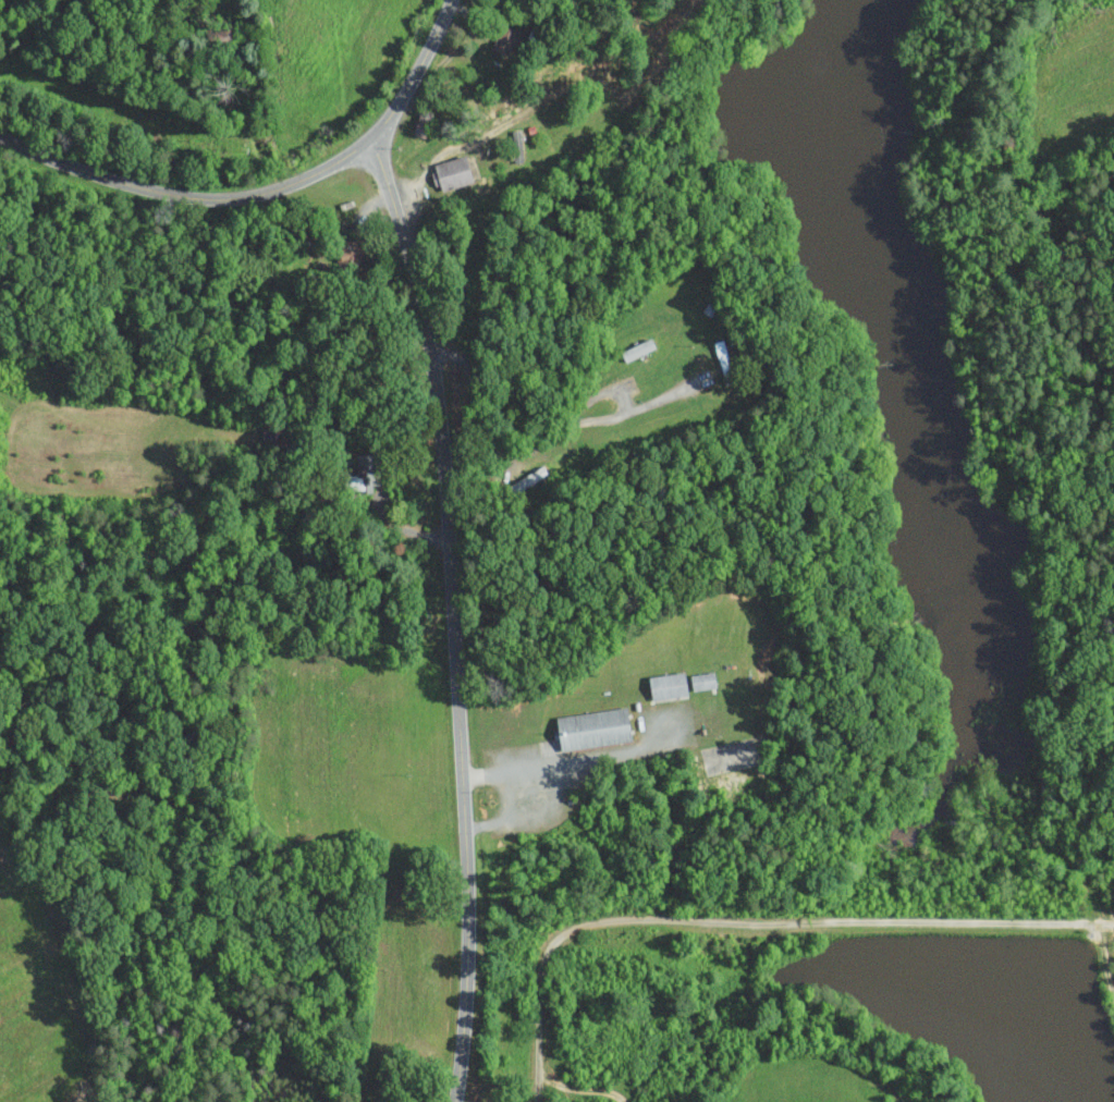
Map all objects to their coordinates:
building: (505, 38)
road: (421, 171)
building: (450, 172)
road: (267, 193)
road: (550, 439)
building: (363, 474)
road: (453, 617)
building: (666, 685)
building: (591, 727)
road: (564, 766)

